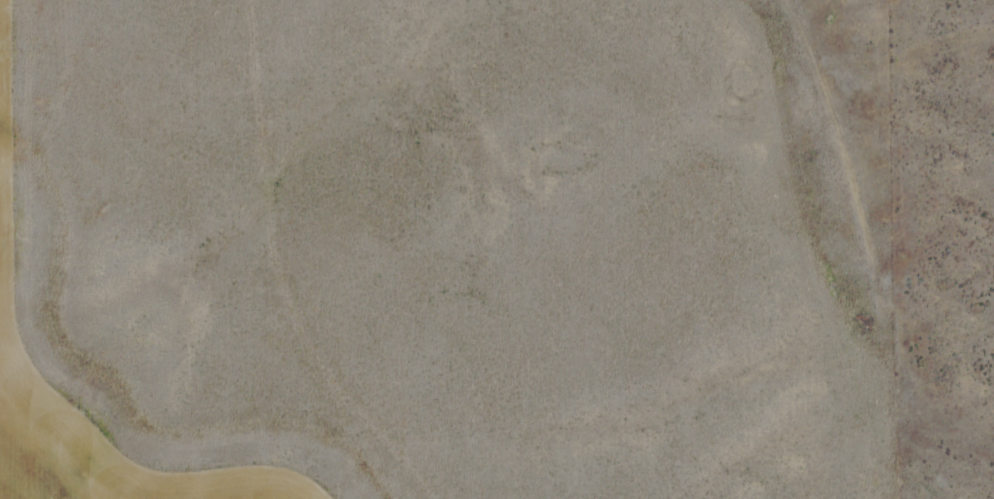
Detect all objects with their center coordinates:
crop: (447, 249)

